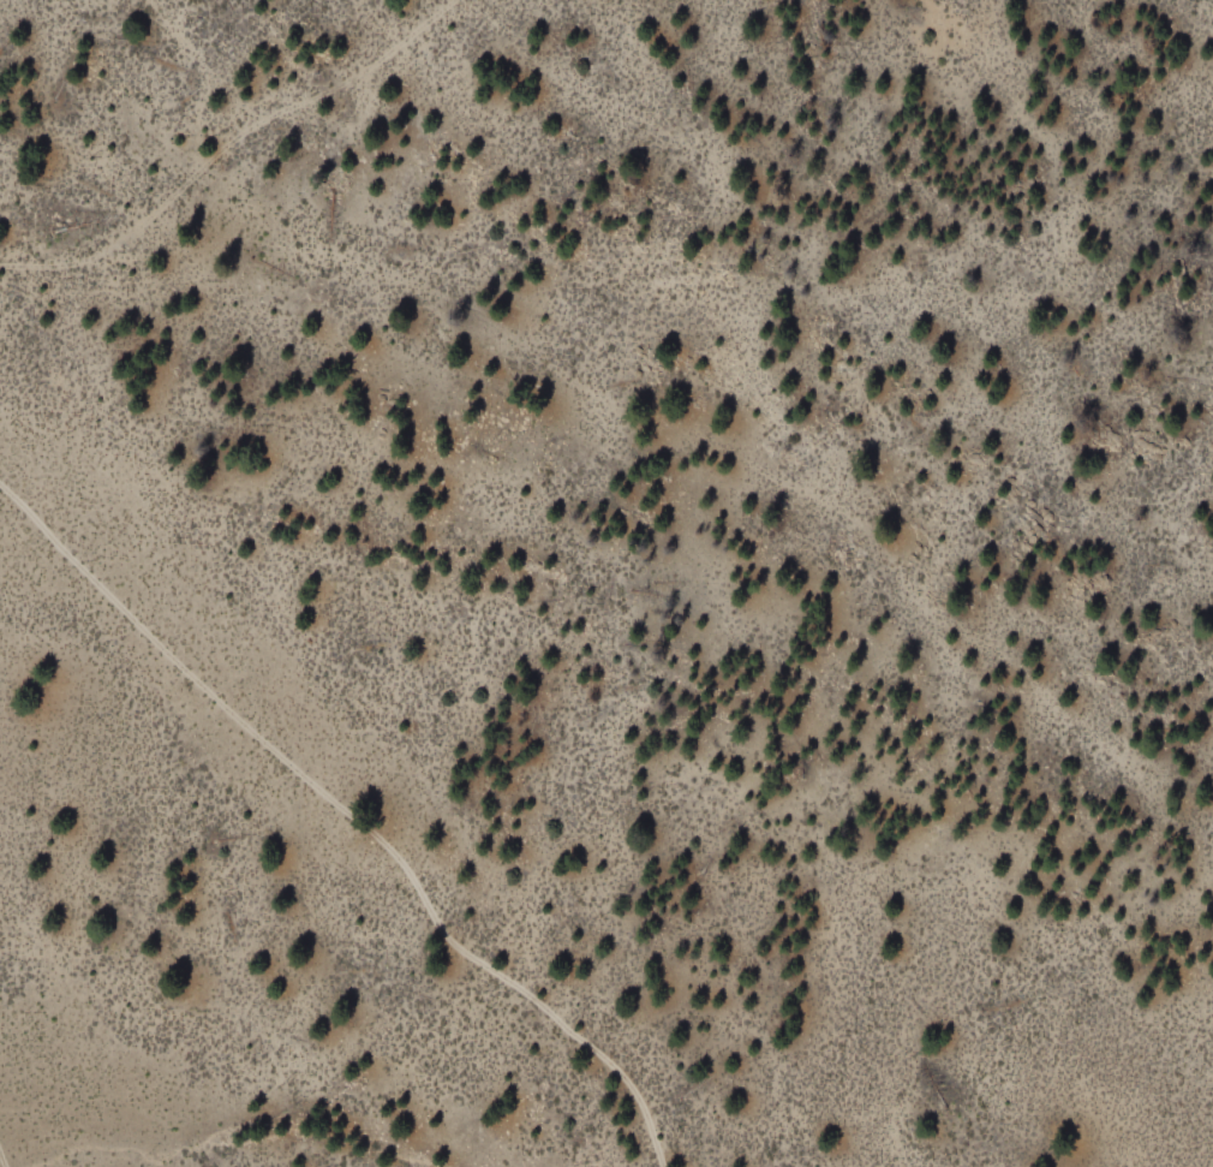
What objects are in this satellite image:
road: (280, 120)
road: (621, 343)
road: (348, 817)
road: (1, 1161)

